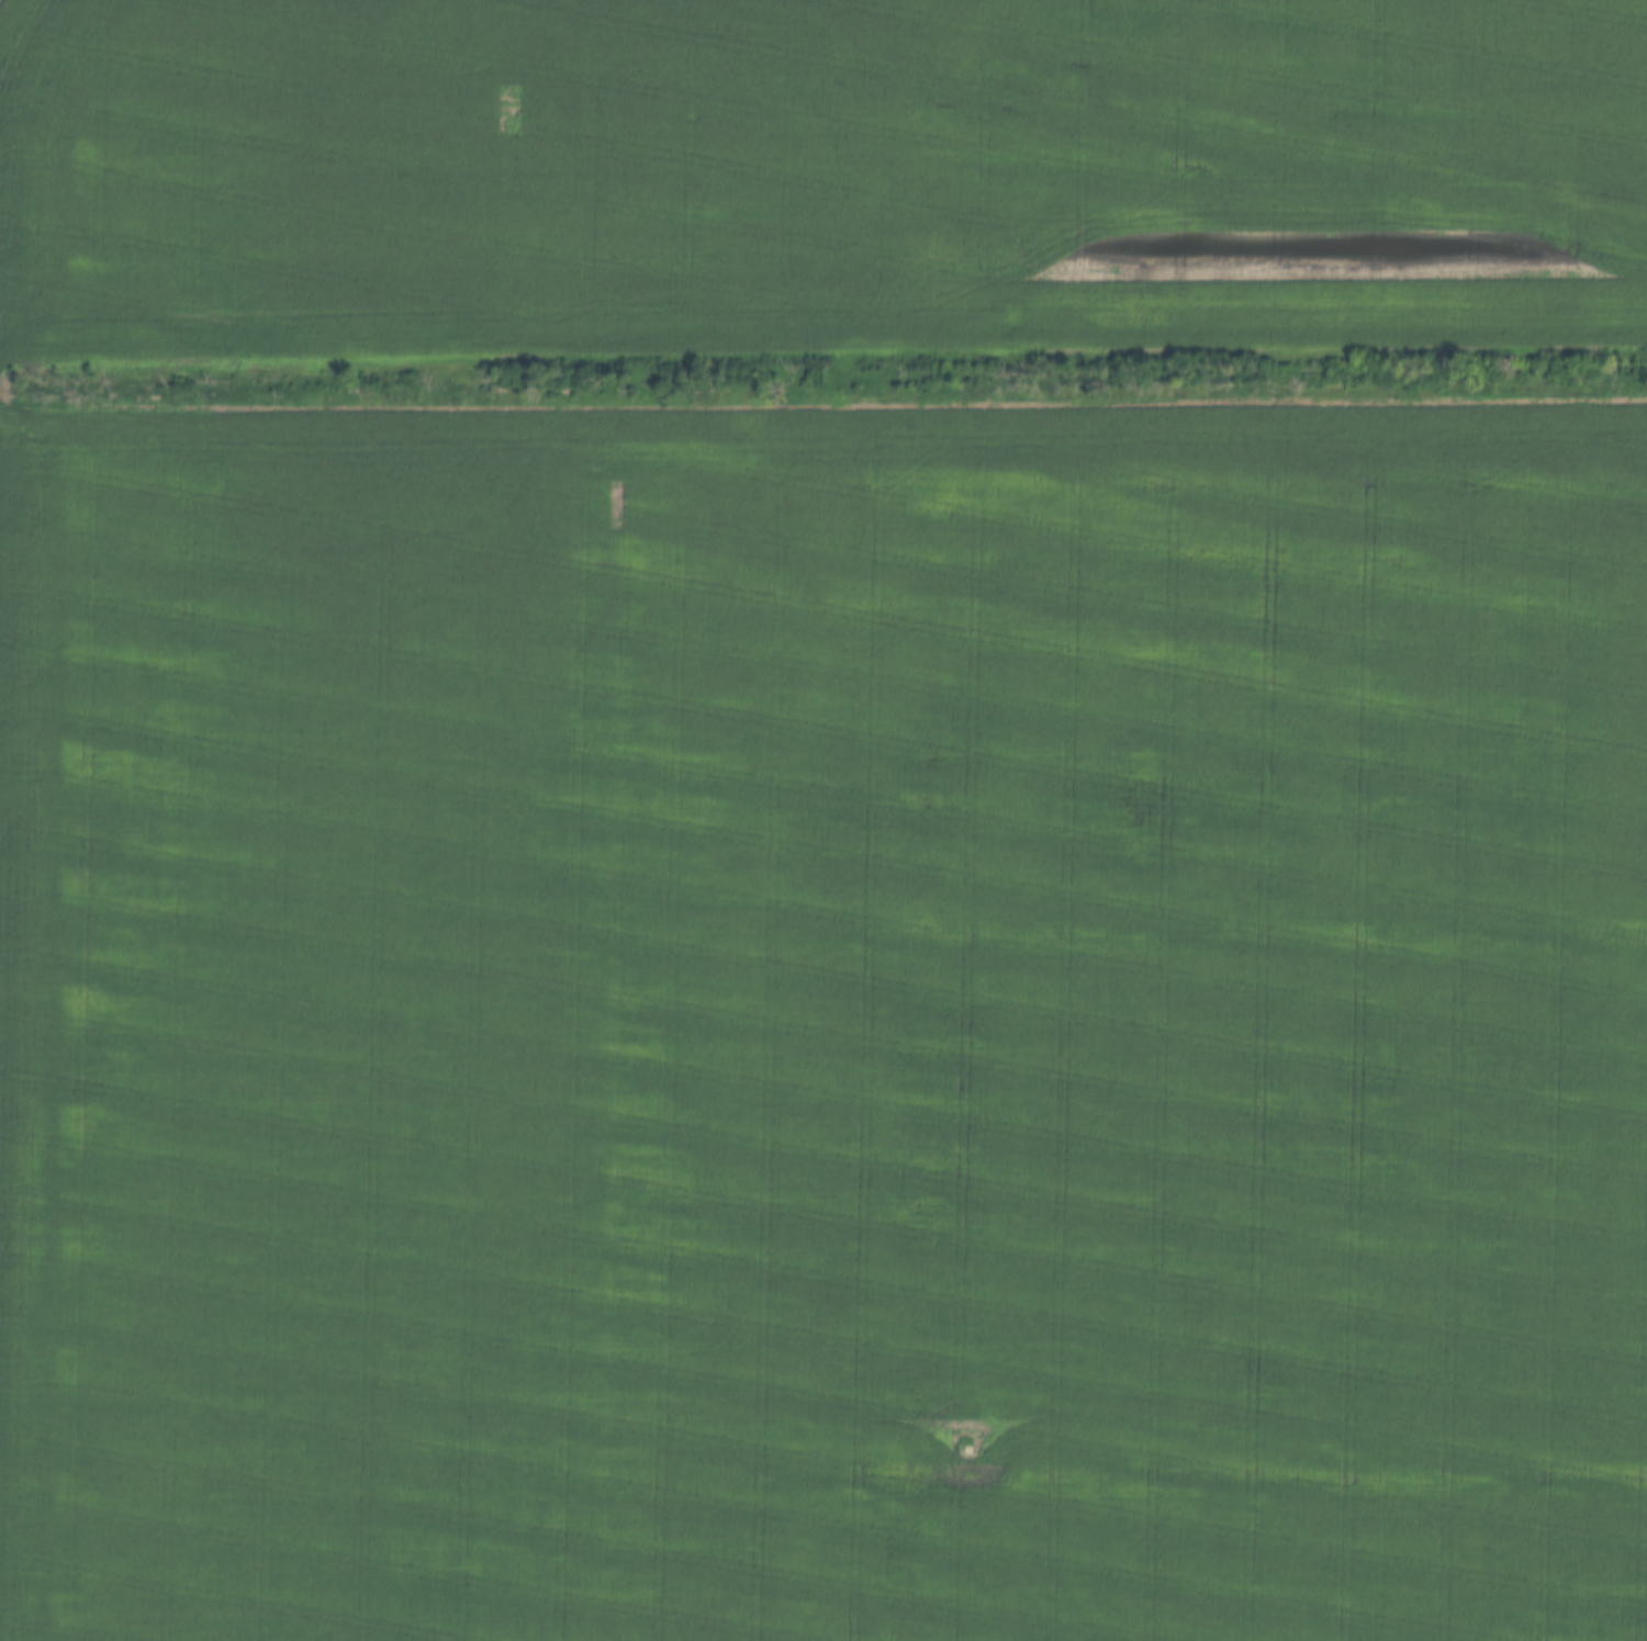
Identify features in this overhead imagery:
crop: (818, 178)
crop: (825, 1023)

